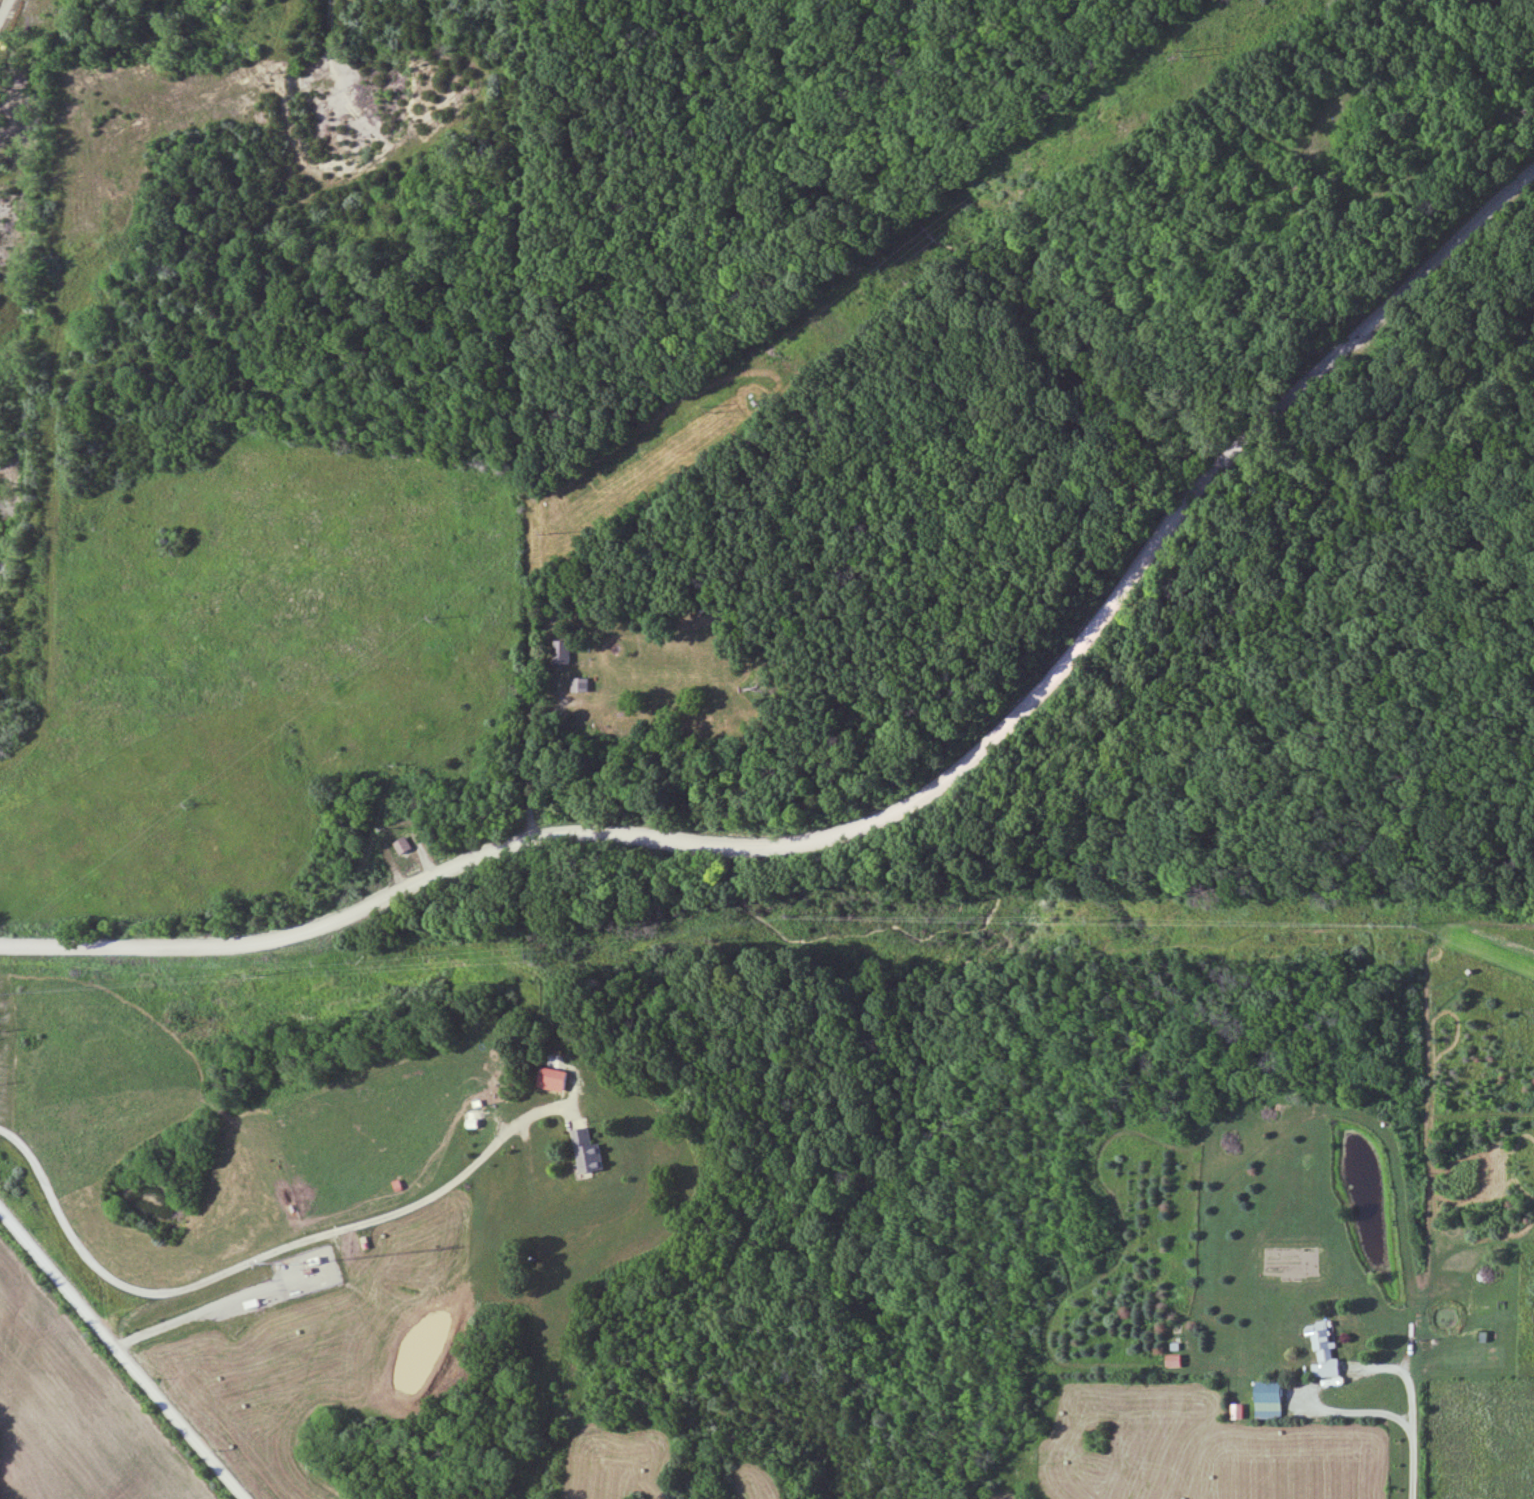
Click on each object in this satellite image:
road: (8, 16)
power tower: (1185, 53)
road: (69, 300)
power tower: (706, 409)
road: (528, 420)
power tower: (430, 616)
building: (562, 653)
park: (958, 657)
power tower: (188, 802)
road: (886, 816)
building: (403, 846)
building: (555, 1079)
building: (588, 1152)
road: (261, 1258)
road: (539, 1312)
road: (207, 1313)
building: (1324, 1352)
road: (122, 1354)
building: (1271, 1400)
road: (1412, 1405)

